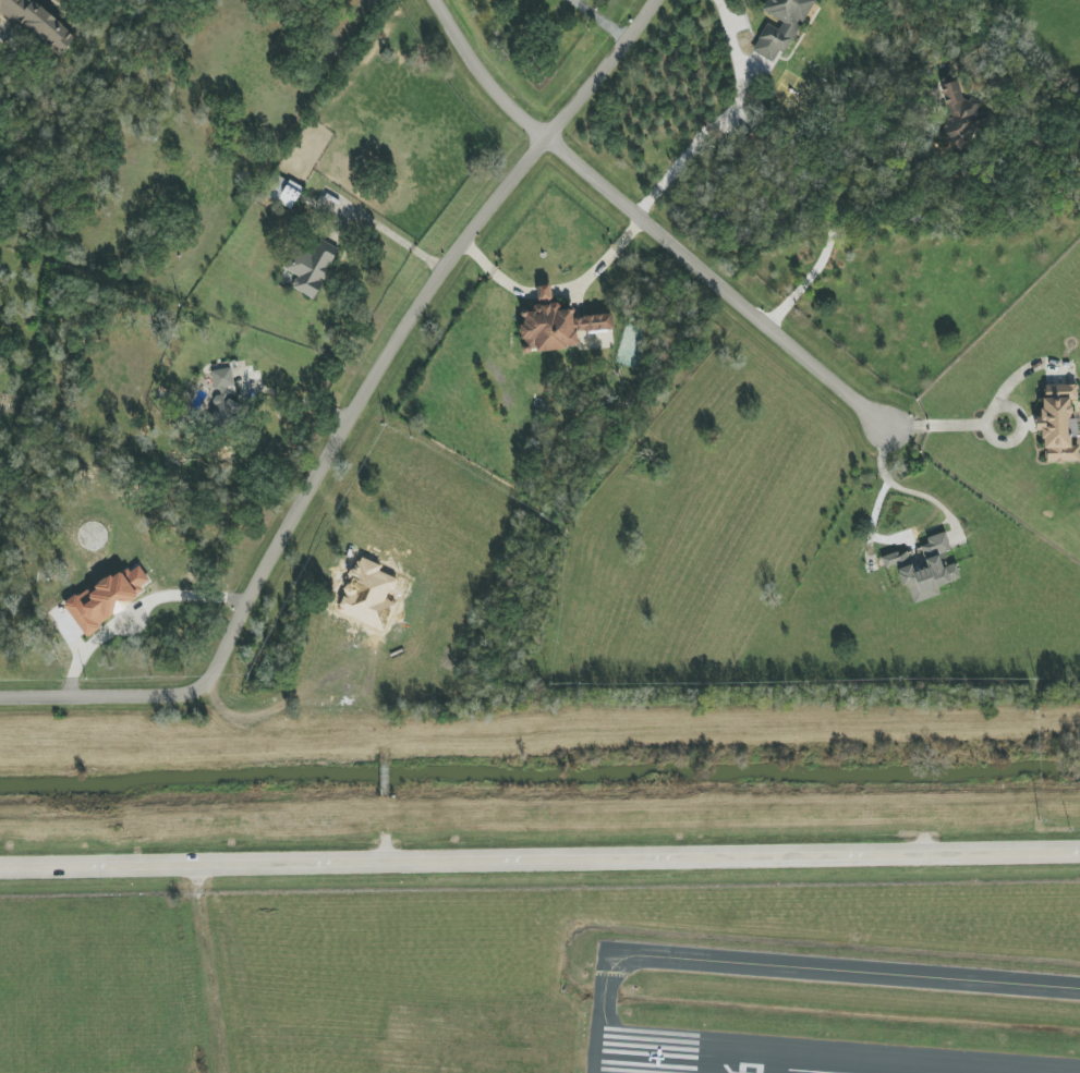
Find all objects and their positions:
road: (599, 19)
building: (38, 24)
building: (780, 26)
road: (481, 74)
building: (959, 108)
road: (724, 120)
building: (283, 191)
road: (849, 218)
road: (398, 237)
road: (608, 256)
building: (312, 267)
road: (490, 270)
road: (715, 282)
building: (544, 292)
building: (558, 327)
road: (396, 341)
building: (223, 397)
building: (1058, 423)
road: (946, 426)
road: (902, 488)
building: (925, 569)
building: (107, 597)
road: (136, 611)
road: (86, 696)
road: (384, 775)
road: (539, 859)
road: (197, 877)
road: (211, 980)
airport: (547, 981)
airport taxiway: (591, 1013)
airport runway: (810, 1039)

